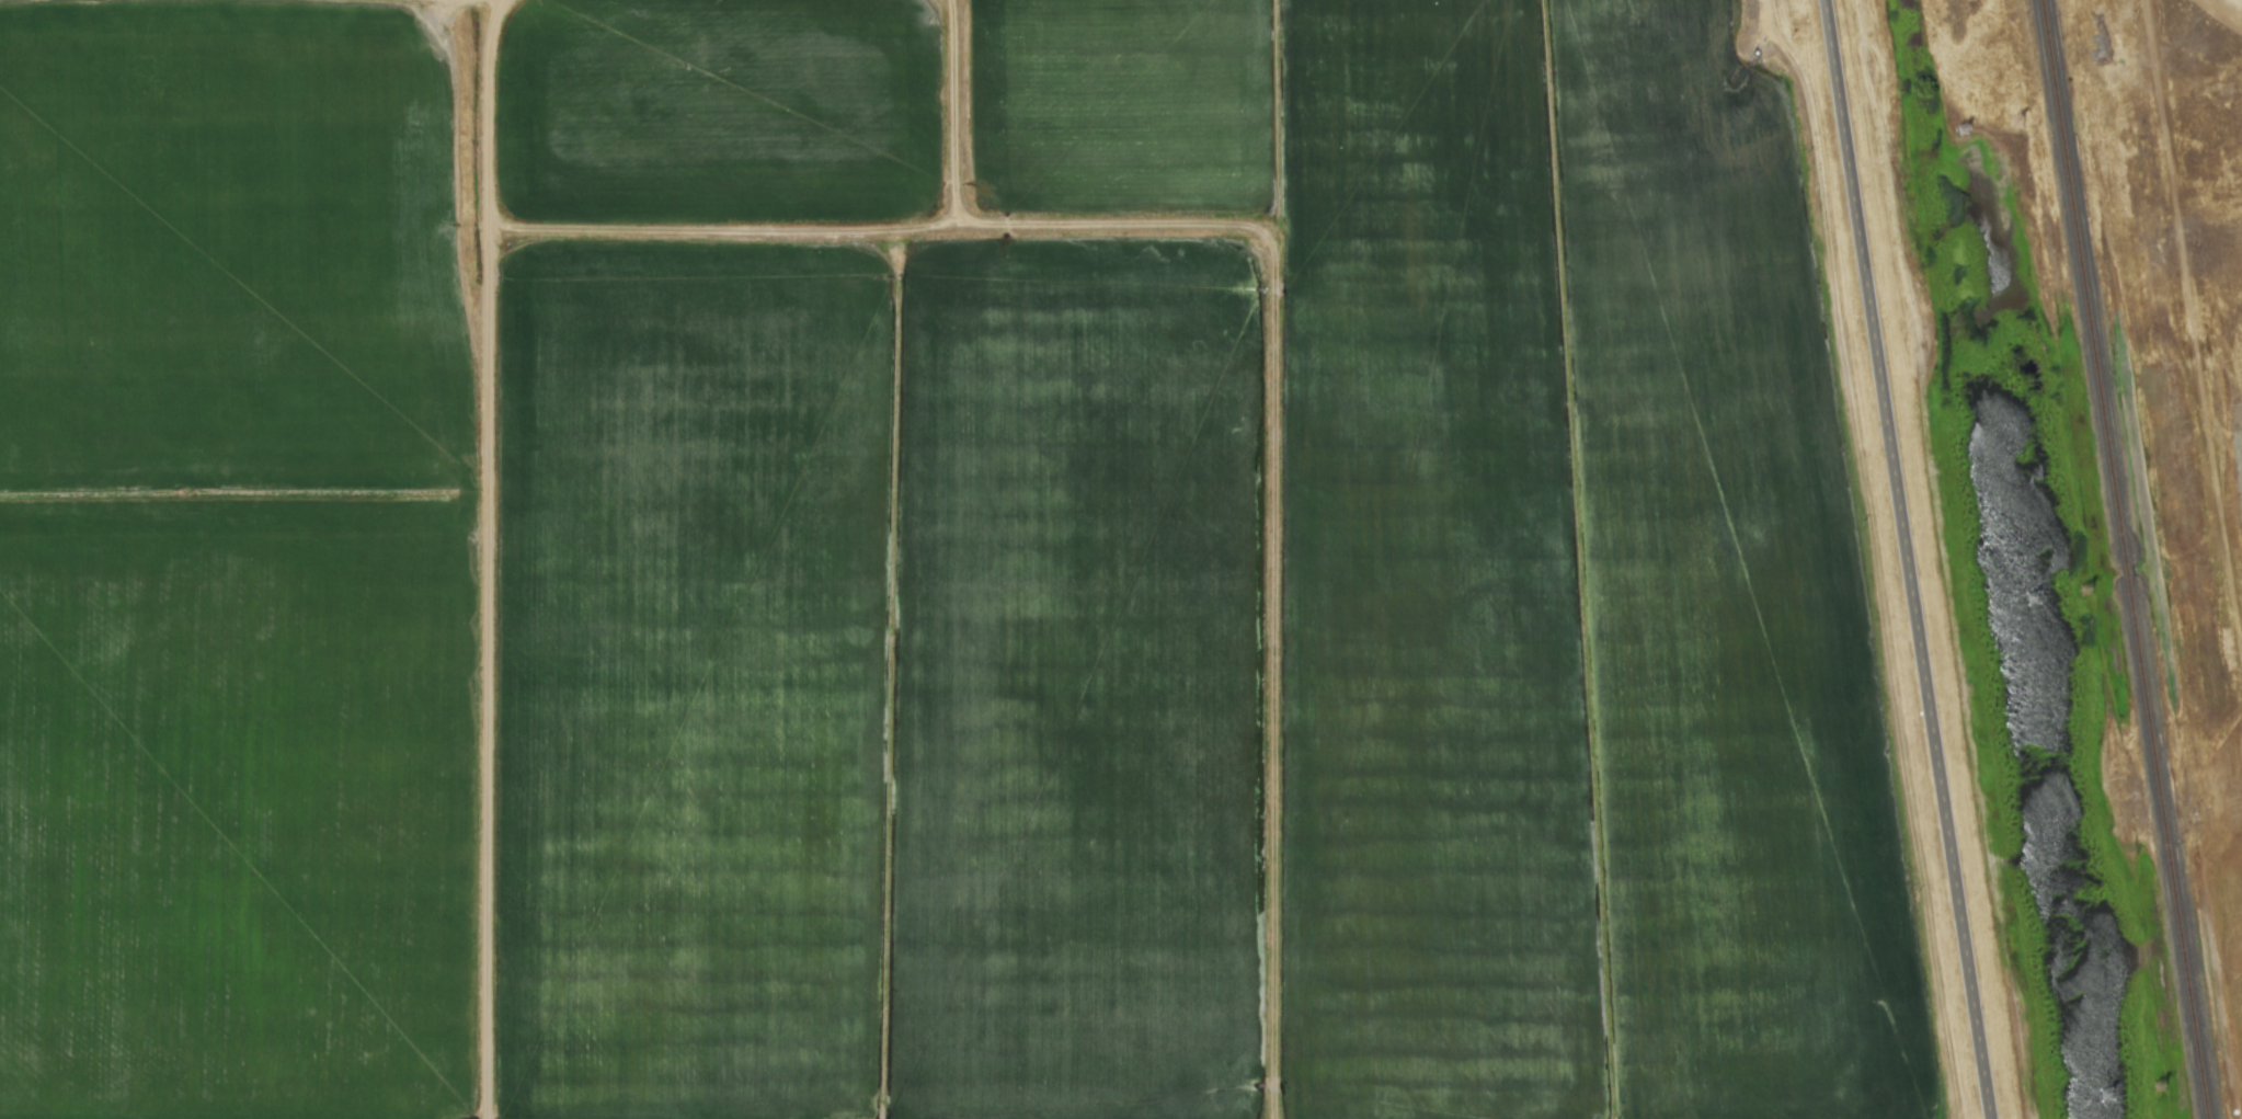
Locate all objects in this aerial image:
railway: (2050, 58)
power tower: (2018, 122)
power tower: (1964, 130)
railway: (2094, 343)
road: (1906, 559)
railway: (2131, 575)
power tower: (2085, 592)
power tower: (2034, 601)
railway: (2172, 849)
power tower: (2157, 1091)
power tower: (2106, 1097)

